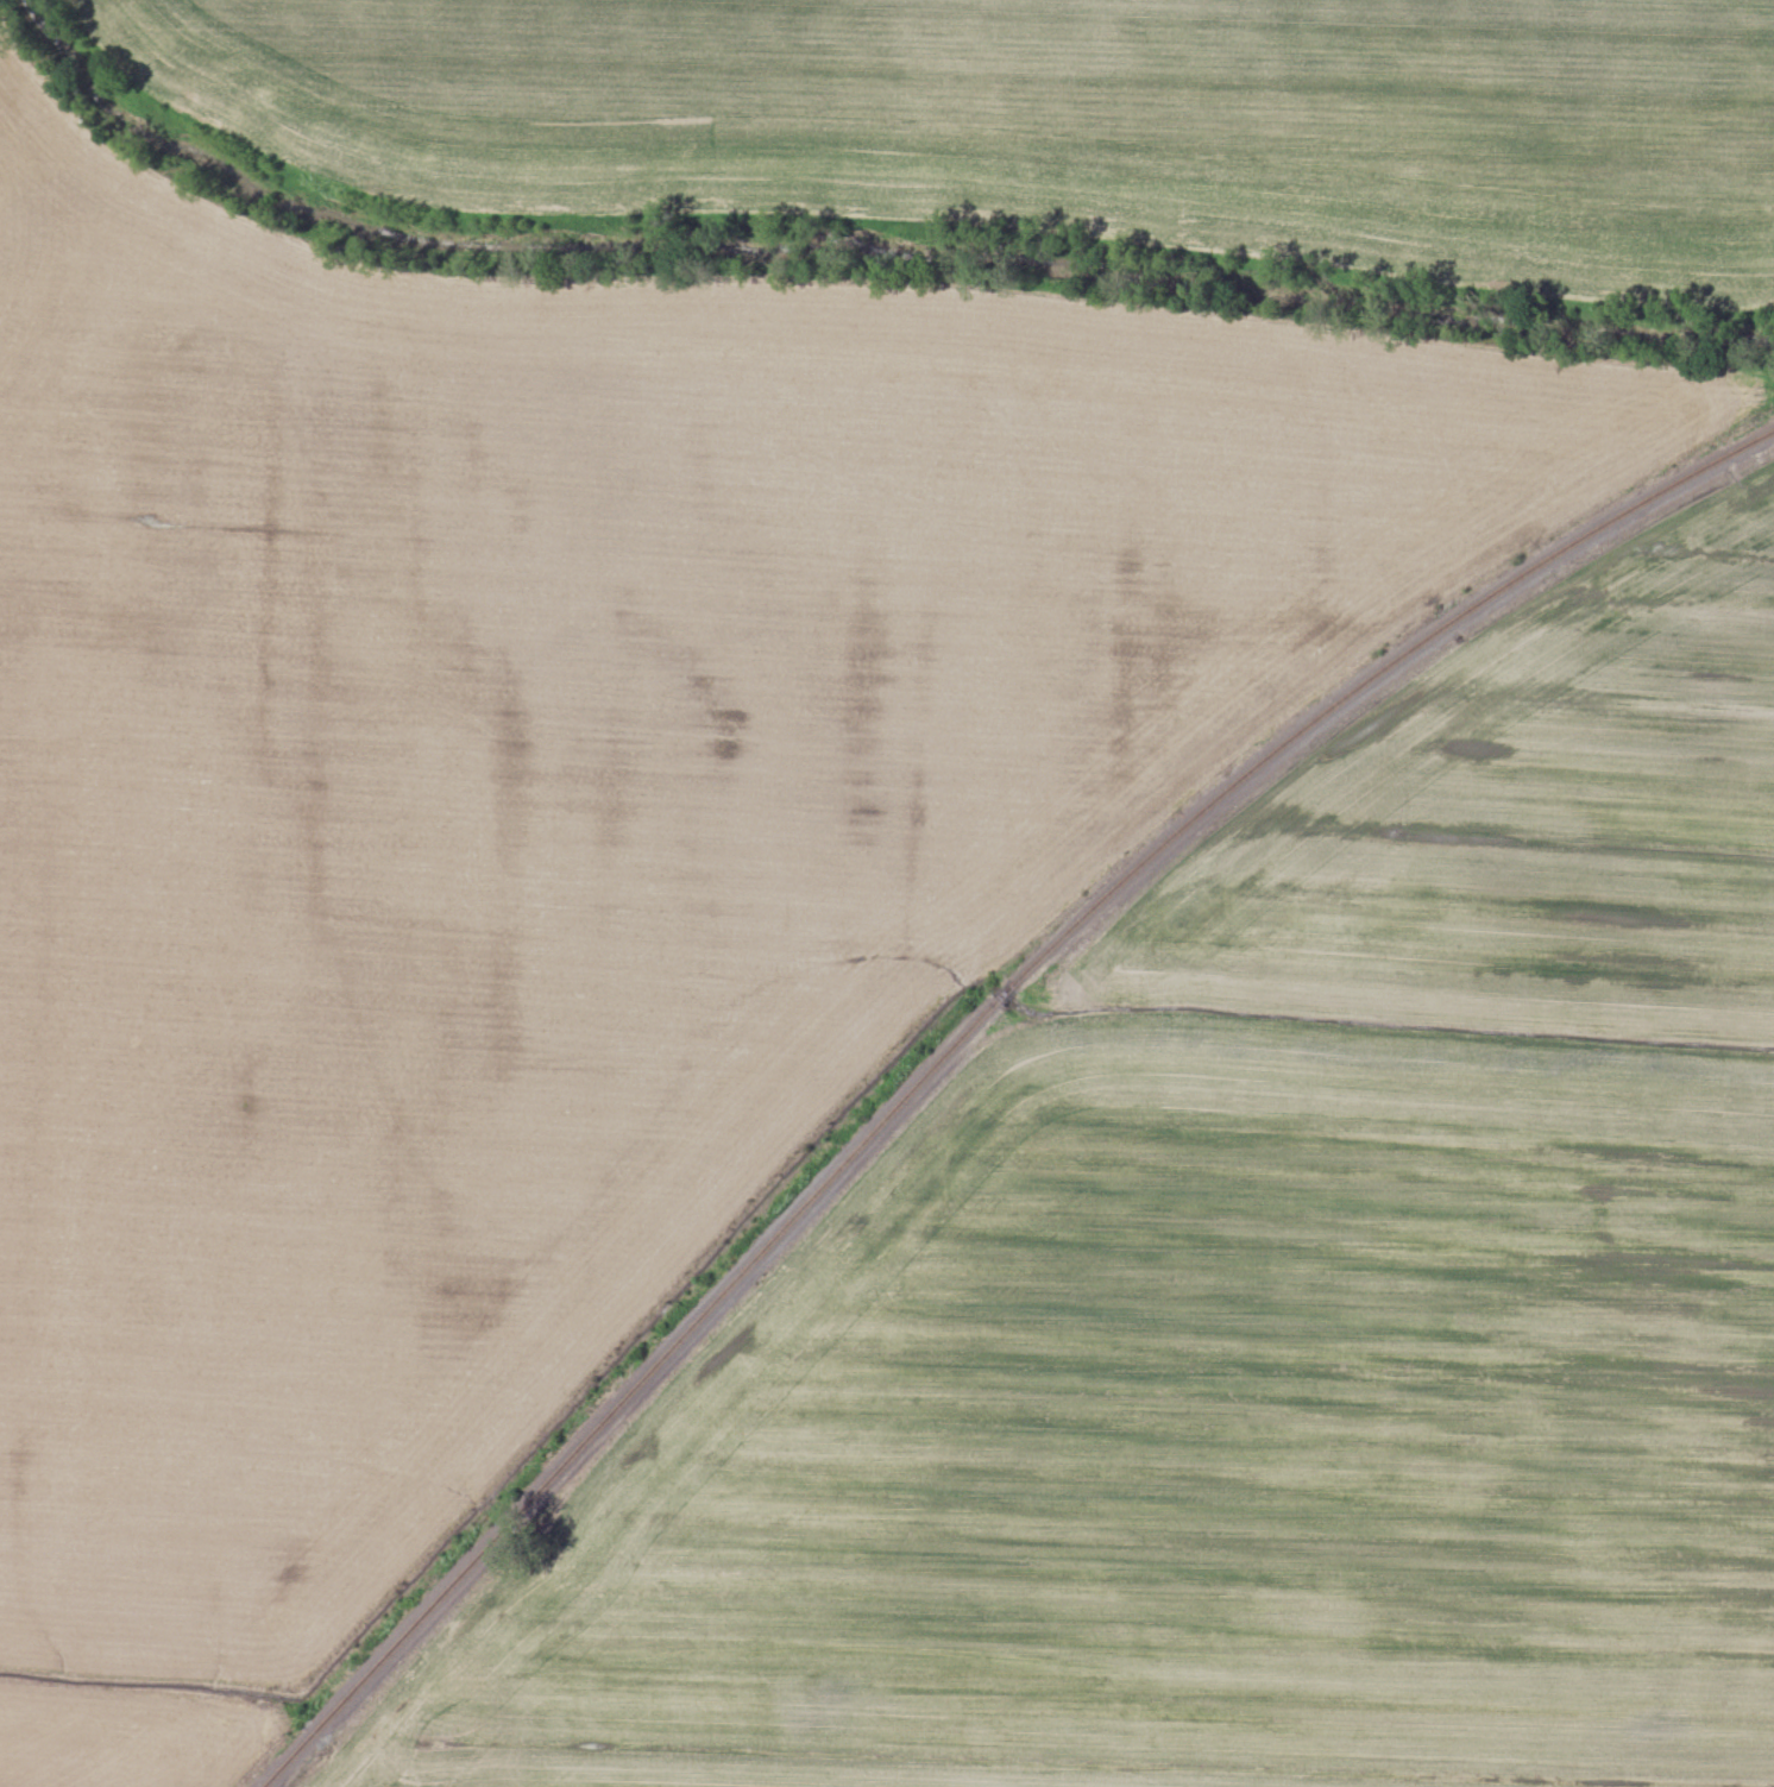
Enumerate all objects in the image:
crop: (1043, 117)
crop: (572, 798)
railway: (955, 1034)
crop: (1263, 1310)
crop: (126, 1742)

